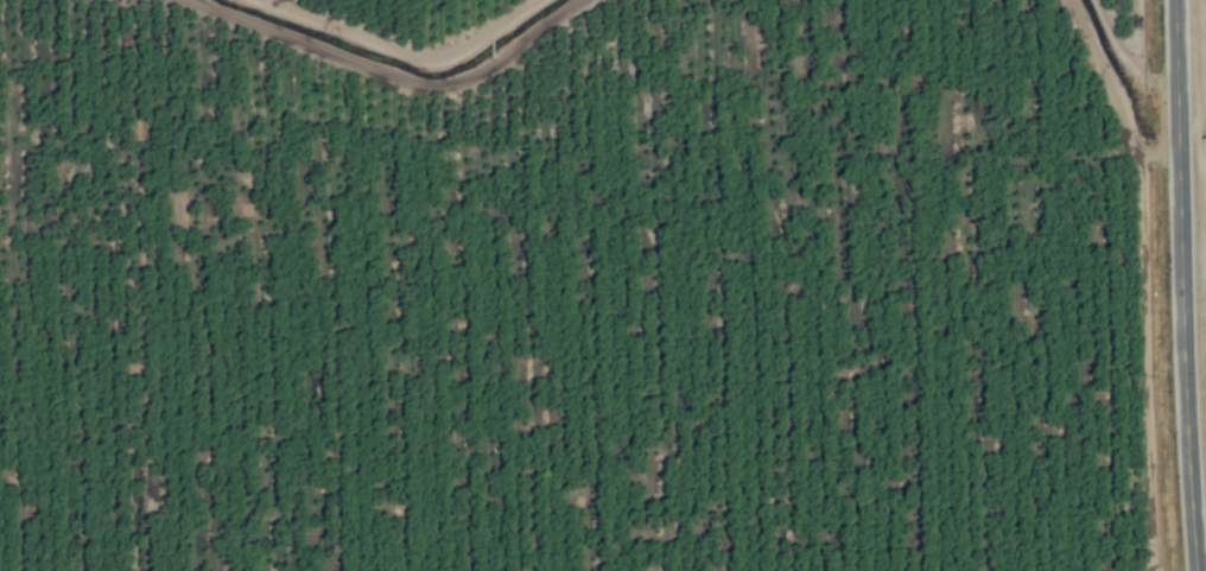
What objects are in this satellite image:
crop: (603, 285)
road: (1188, 285)

